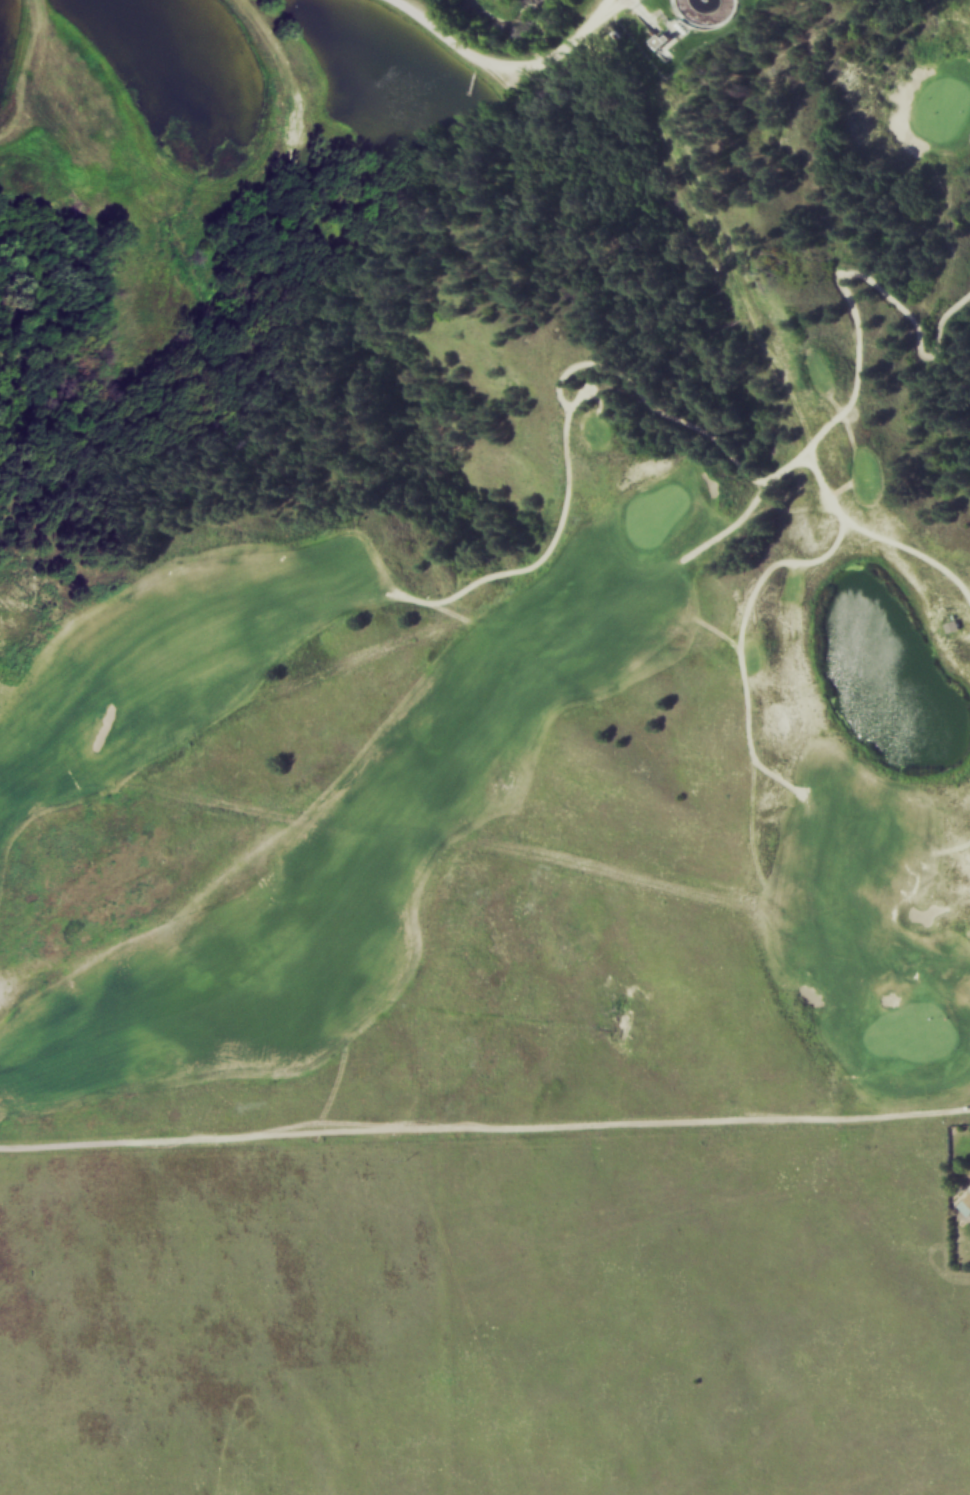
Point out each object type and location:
road: (606, 8)
road: (616, 8)
road: (500, 65)
building: (966, 1205)

